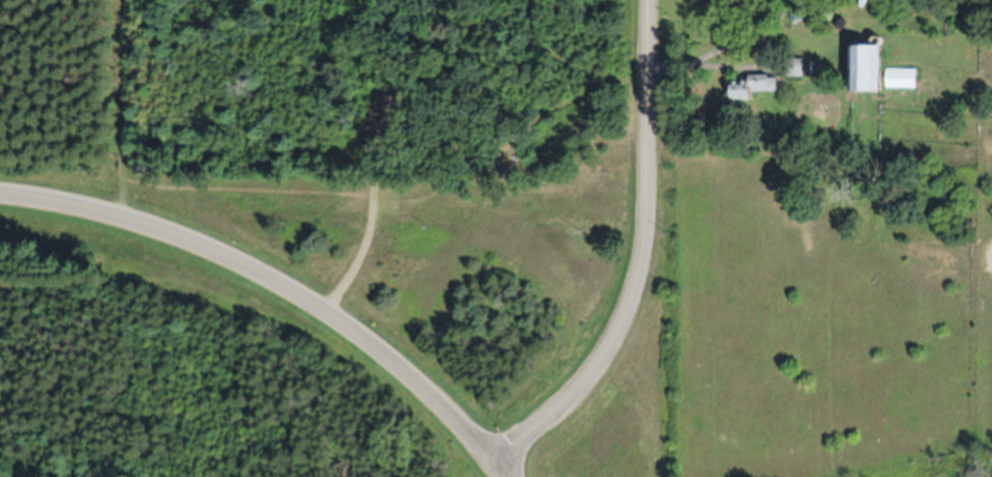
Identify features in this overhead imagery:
building: (869, 67)
building: (903, 79)
building: (751, 87)
building: (385, 104)
road: (641, 255)
road: (276, 278)
road: (505, 471)

